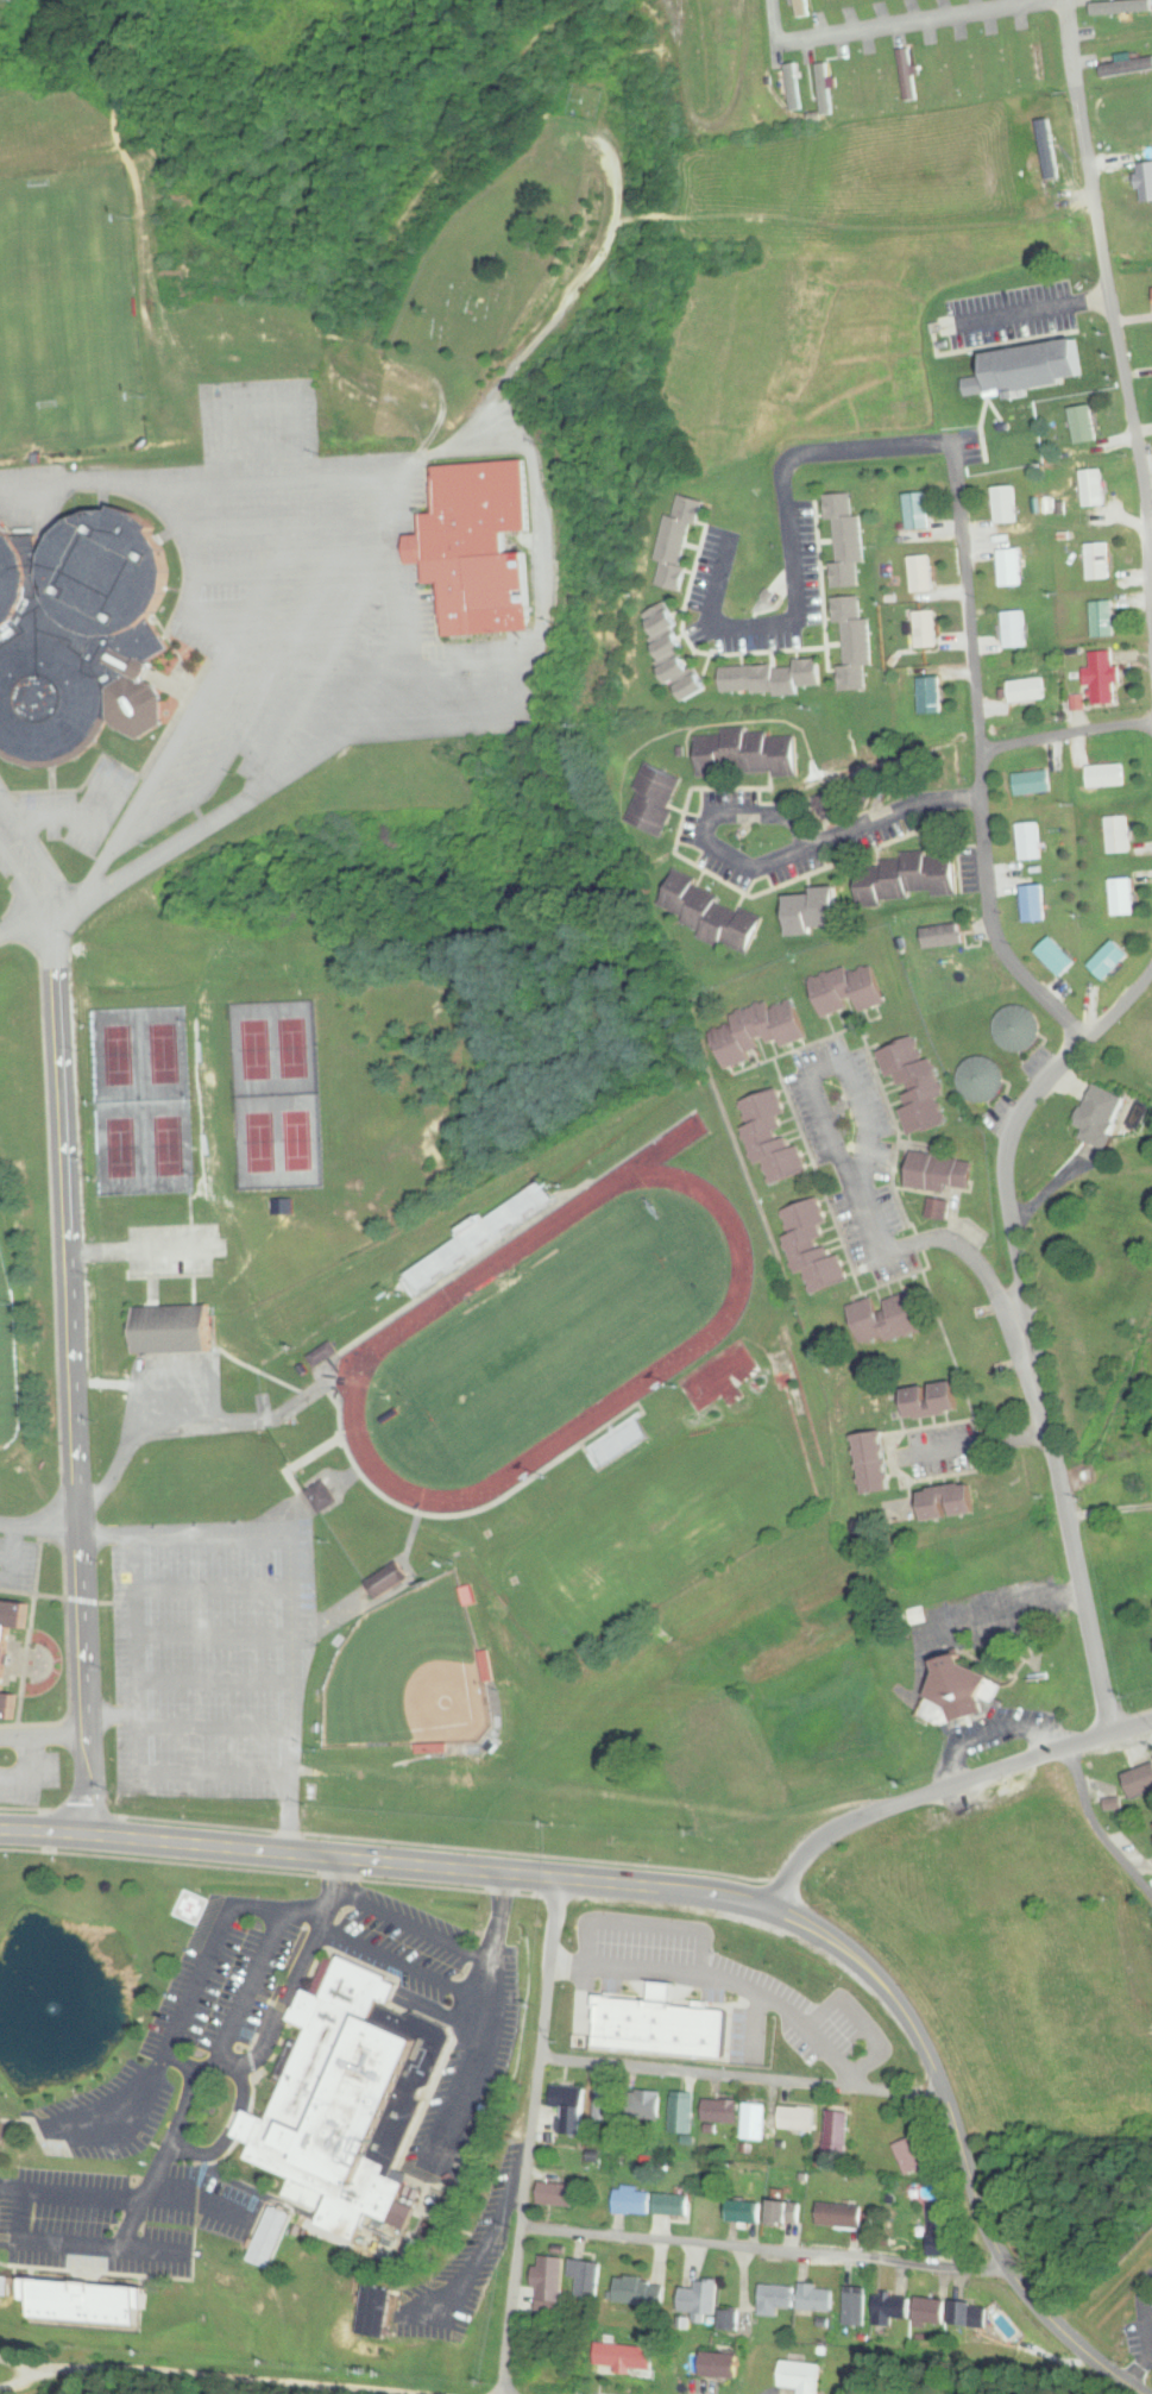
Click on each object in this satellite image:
building: (1122, 7)
building: (800, 8)
road: (914, 25)
road: (770, 32)
building: (1038, 52)
building: (1126, 68)
building: (907, 75)
building: (792, 87)
park: (489, 263)
road: (1109, 295)
park: (58, 318)
road: (542, 337)
building: (1033, 367)
road: (259, 404)
building: (1084, 425)
road: (263, 451)
road: (264, 484)
building: (1094, 489)
building: (1006, 505)
building: (918, 511)
road: (289, 528)
building: (676, 541)
road: (797, 541)
building: (846, 541)
building: (480, 552)
building: (1100, 561)
building: (1011, 568)
building: (109, 572)
building: (921, 574)
road: (234, 577)
building: (12, 579)
road: (269, 582)
building: (40, 593)
building: (1103, 620)
building: (926, 629)
building: (1015, 630)
road: (238, 636)
building: (854, 643)
building: (675, 655)
road: (322, 671)
building: (1106, 678)
building: (769, 679)
building: (1027, 691)
road: (464, 696)
building: (932, 696)
road: (259, 702)
road: (1066, 737)
road: (334, 743)
building: (748, 755)
road: (982, 760)
building: (1106, 777)
building: (1033, 784)
building: (655, 800)
road: (93, 824)
building: (1118, 835)
building: (1030, 842)
road: (37, 846)
road: (778, 859)
building: (908, 878)
road: (26, 884)
building: (1122, 897)
building: (1034, 904)
building: (816, 911)
road: (25, 925)
building: (718, 930)
building: (944, 937)
building: (1059, 957)
building: (1112, 961)
building: (849, 991)
building: (1020, 1029)
building: (760, 1031)
building: (983, 1081)
building: (914, 1093)
park: (143, 1101)
road: (823, 1114)
building: (1103, 1116)
building: (768, 1143)
track: (662, 1152)
building: (940, 1174)
building: (478, 1240)
road: (943, 1246)
road: (145, 1252)
building: (804, 1253)
building: (887, 1319)
road: (1030, 1327)
building: (174, 1332)
track: (548, 1340)
park: (546, 1341)
park: (6, 1347)
stadium: (6, 1372)
road: (177, 1375)
road: (71, 1380)
building: (932, 1401)
road: (136, 1426)
building: (619, 1444)
building: (869, 1464)
building: (321, 1497)
building: (950, 1503)
road: (38, 1529)
road: (107, 1534)
road: (13, 1558)
road: (290, 1578)
building: (388, 1579)
road: (214, 1588)
building: (11, 1616)
road: (214, 1635)
park: (408, 1678)
road: (215, 1680)
building: (958, 1695)
building: (6, 1705)
road: (113, 1717)
road: (141, 1727)
road: (216, 1727)
road: (992, 1732)
road: (43, 1735)
road: (1071, 1762)
road: (33, 1773)
building: (1139, 1782)
road: (942, 1790)
road: (291, 1815)
road: (1106, 1841)
road: (700, 1895)
building: (187, 1908)
helipad: (187, 1908)
road: (499, 1919)
road: (648, 1925)
road: (415, 1927)
road: (405, 1966)
road: (568, 1966)
road: (731, 1983)
road: (251, 1986)
road: (188, 2003)
fountain: (56, 2006)
road: (863, 2021)
road: (755, 2027)
road: (243, 2063)
road: (184, 2066)
road: (477, 2068)
road: (742, 2078)
road: (854, 2078)
building: (567, 2097)
building: (345, 2099)
building: (646, 2105)
building: (605, 2107)
building: (722, 2111)
building: (682, 2112)
building: (798, 2118)
building: (754, 2123)
building: (839, 2128)
road: (232, 2131)
road: (530, 2136)
building: (911, 2156)
road: (12, 2189)
building: (558, 2194)
road: (86, 2197)
road: (202, 2199)
building: (632, 2203)
building: (672, 2205)
building: (748, 2212)
building: (783, 2212)
building: (843, 2216)
building: (940, 2229)
building: (270, 2238)
road: (80, 2245)
road: (768, 2249)
road: (478, 2263)
building: (549, 2277)
building: (586, 2277)
building: (4, 2287)
building: (641, 2291)
building: (778, 2296)
building: (699, 2299)
building: (817, 2299)
building: (854, 2306)
building: (37, 2311)
building: (889, 2311)
building: (930, 2311)
building: (376, 2312)
building: (726, 2320)
road: (1146, 2336)
building: (625, 2360)
building: (722, 2365)
road: (203, 2376)
building: (800, 2377)

